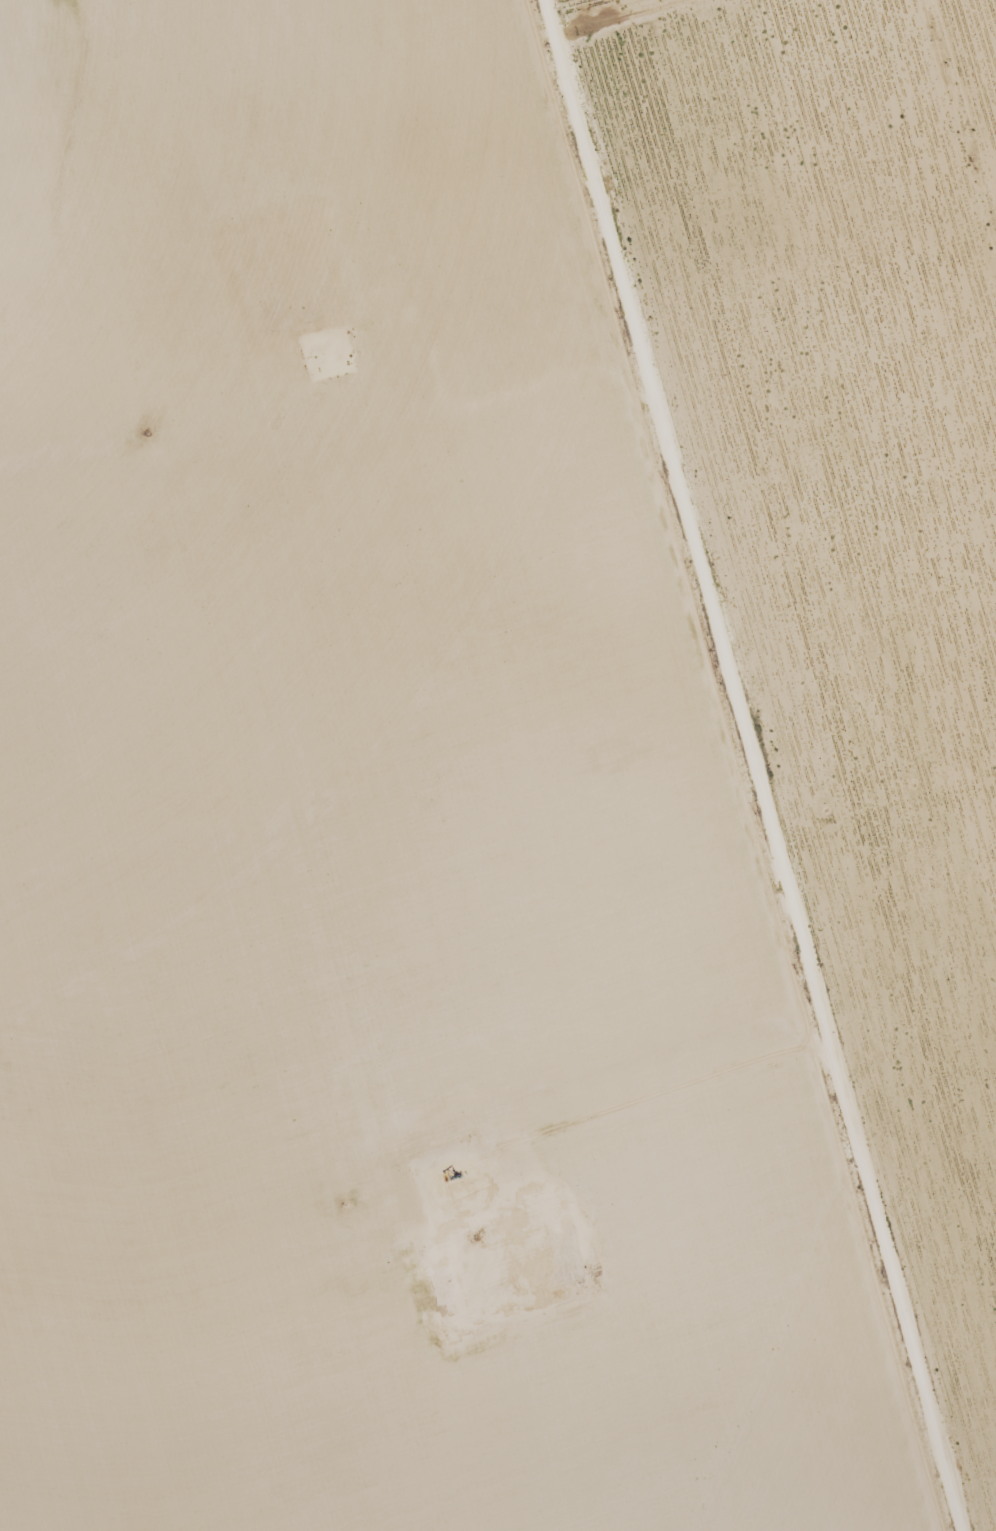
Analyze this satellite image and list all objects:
road: (742, 769)

